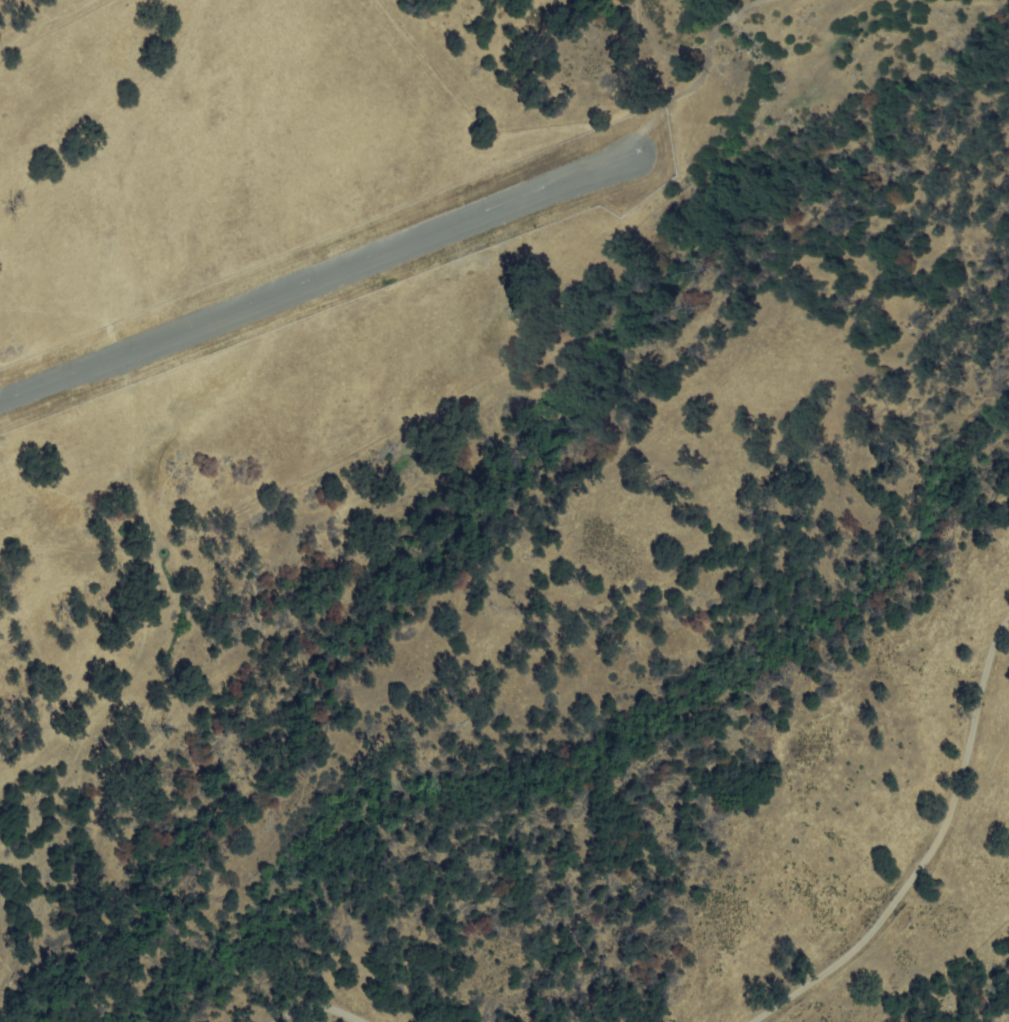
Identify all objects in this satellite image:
airport runway: (317, 274)

